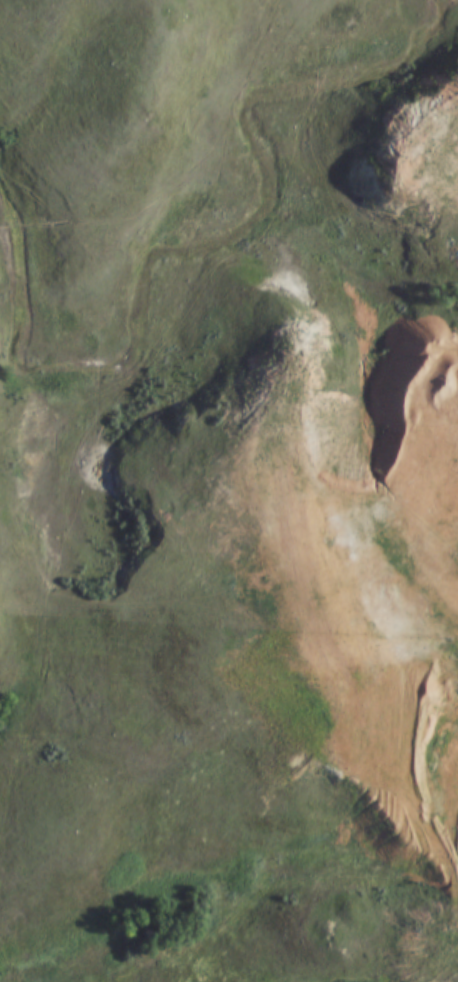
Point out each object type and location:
quarry: (380, 716)

